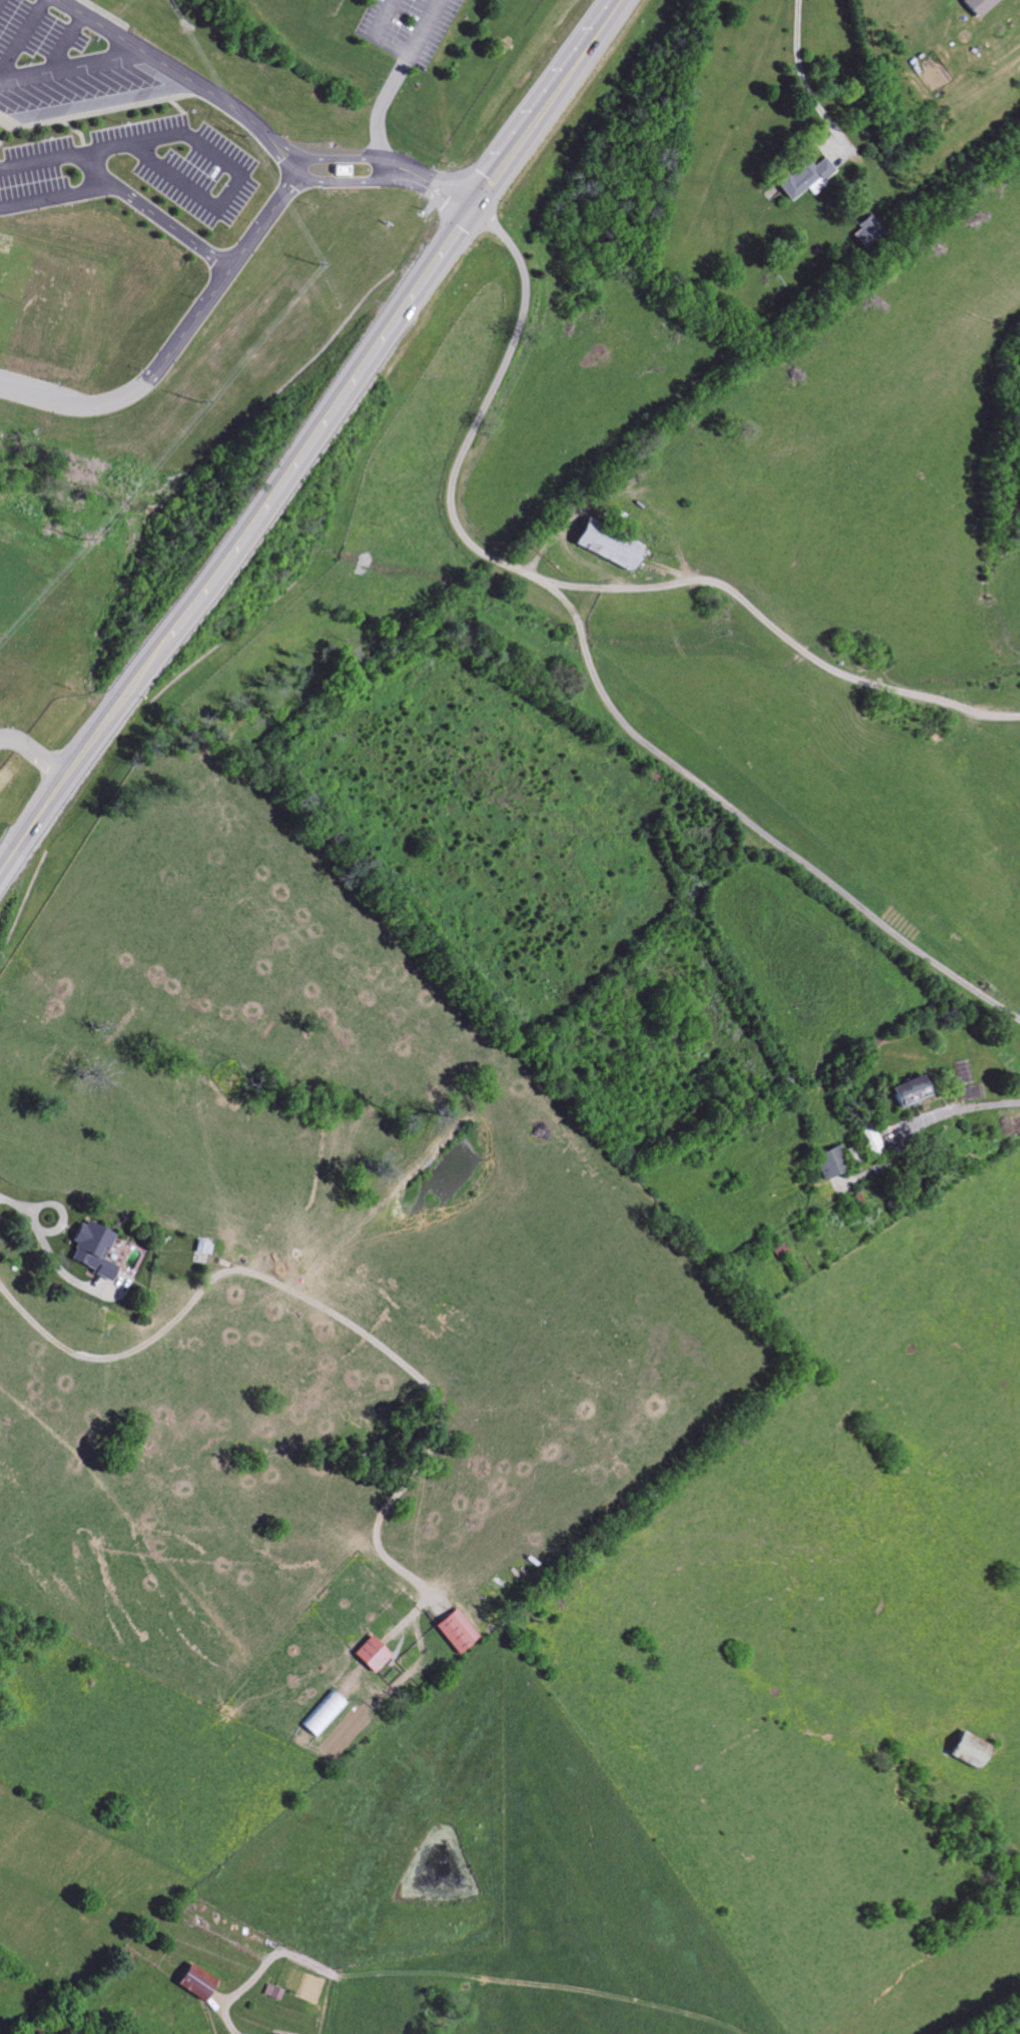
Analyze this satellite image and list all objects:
building: (980, 6)
road: (395, 17)
parking lot: (406, 27)
road: (71, 66)
road: (177, 70)
road: (801, 74)
road: (394, 76)
road: (146, 138)
road: (41, 160)
road: (383, 161)
road: (287, 169)
building: (807, 178)
road: (383, 182)
road: (51, 195)
building: (869, 232)
road: (173, 344)
road: (311, 434)
building: (608, 544)
road: (783, 639)
road: (592, 667)
road: (34, 752)
building: (911, 1090)
road: (979, 1107)
building: (872, 1140)
building: (831, 1163)
road: (60, 1213)
building: (203, 1248)
building: (93, 1249)
road: (47, 1251)
road: (326, 1310)
building: (458, 1631)
building: (372, 1654)
building: (324, 1714)
building: (971, 1751)
building: (197, 1983)

